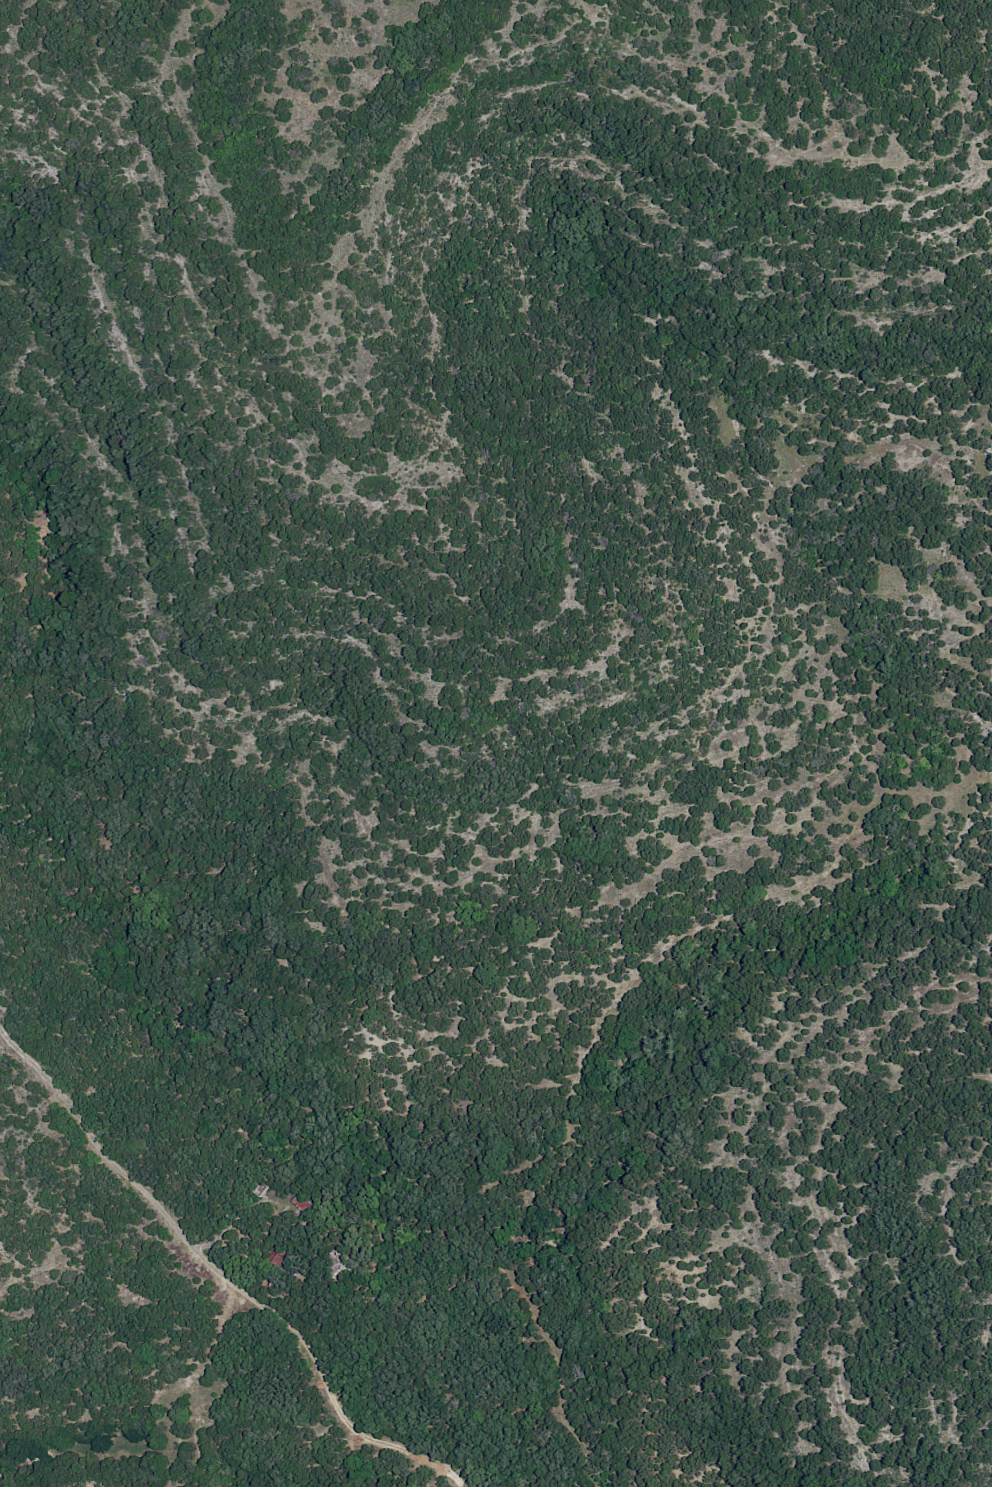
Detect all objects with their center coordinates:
road: (102, 1155)

